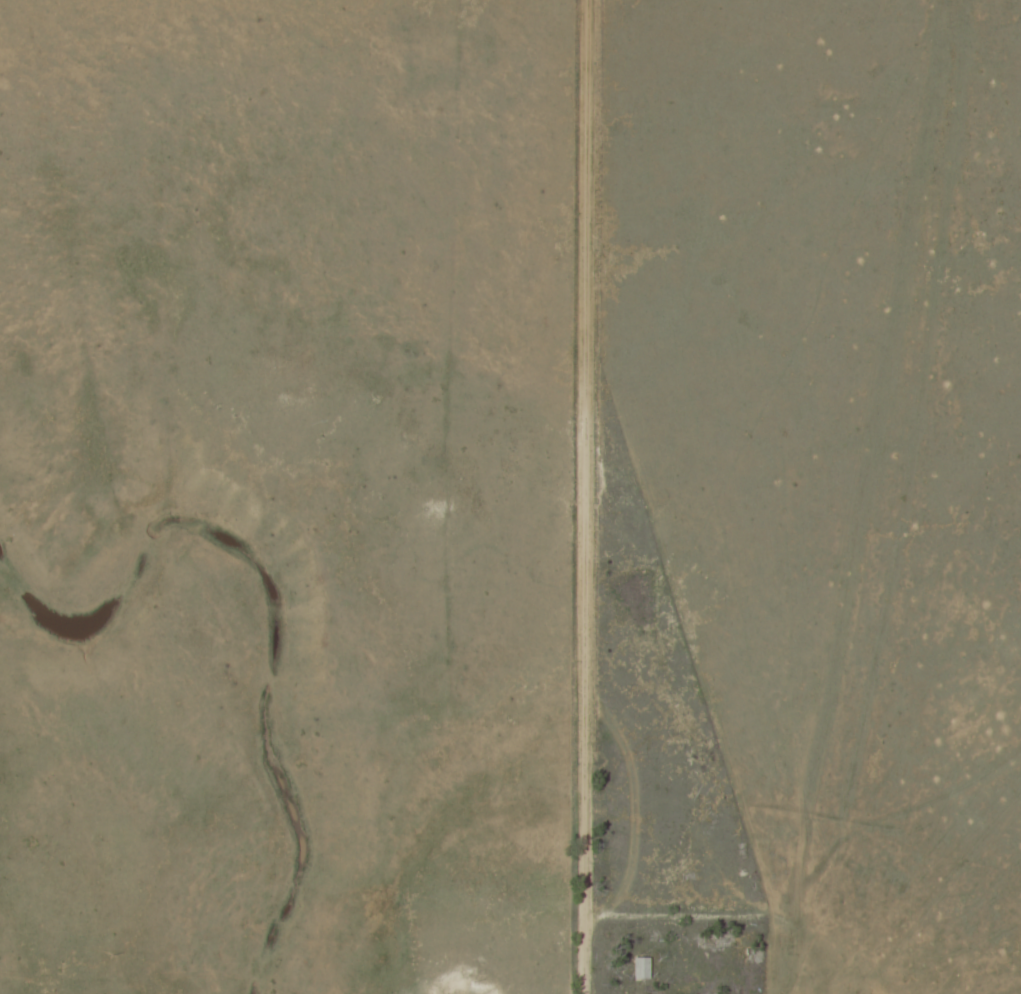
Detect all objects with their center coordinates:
road: (636, 497)

